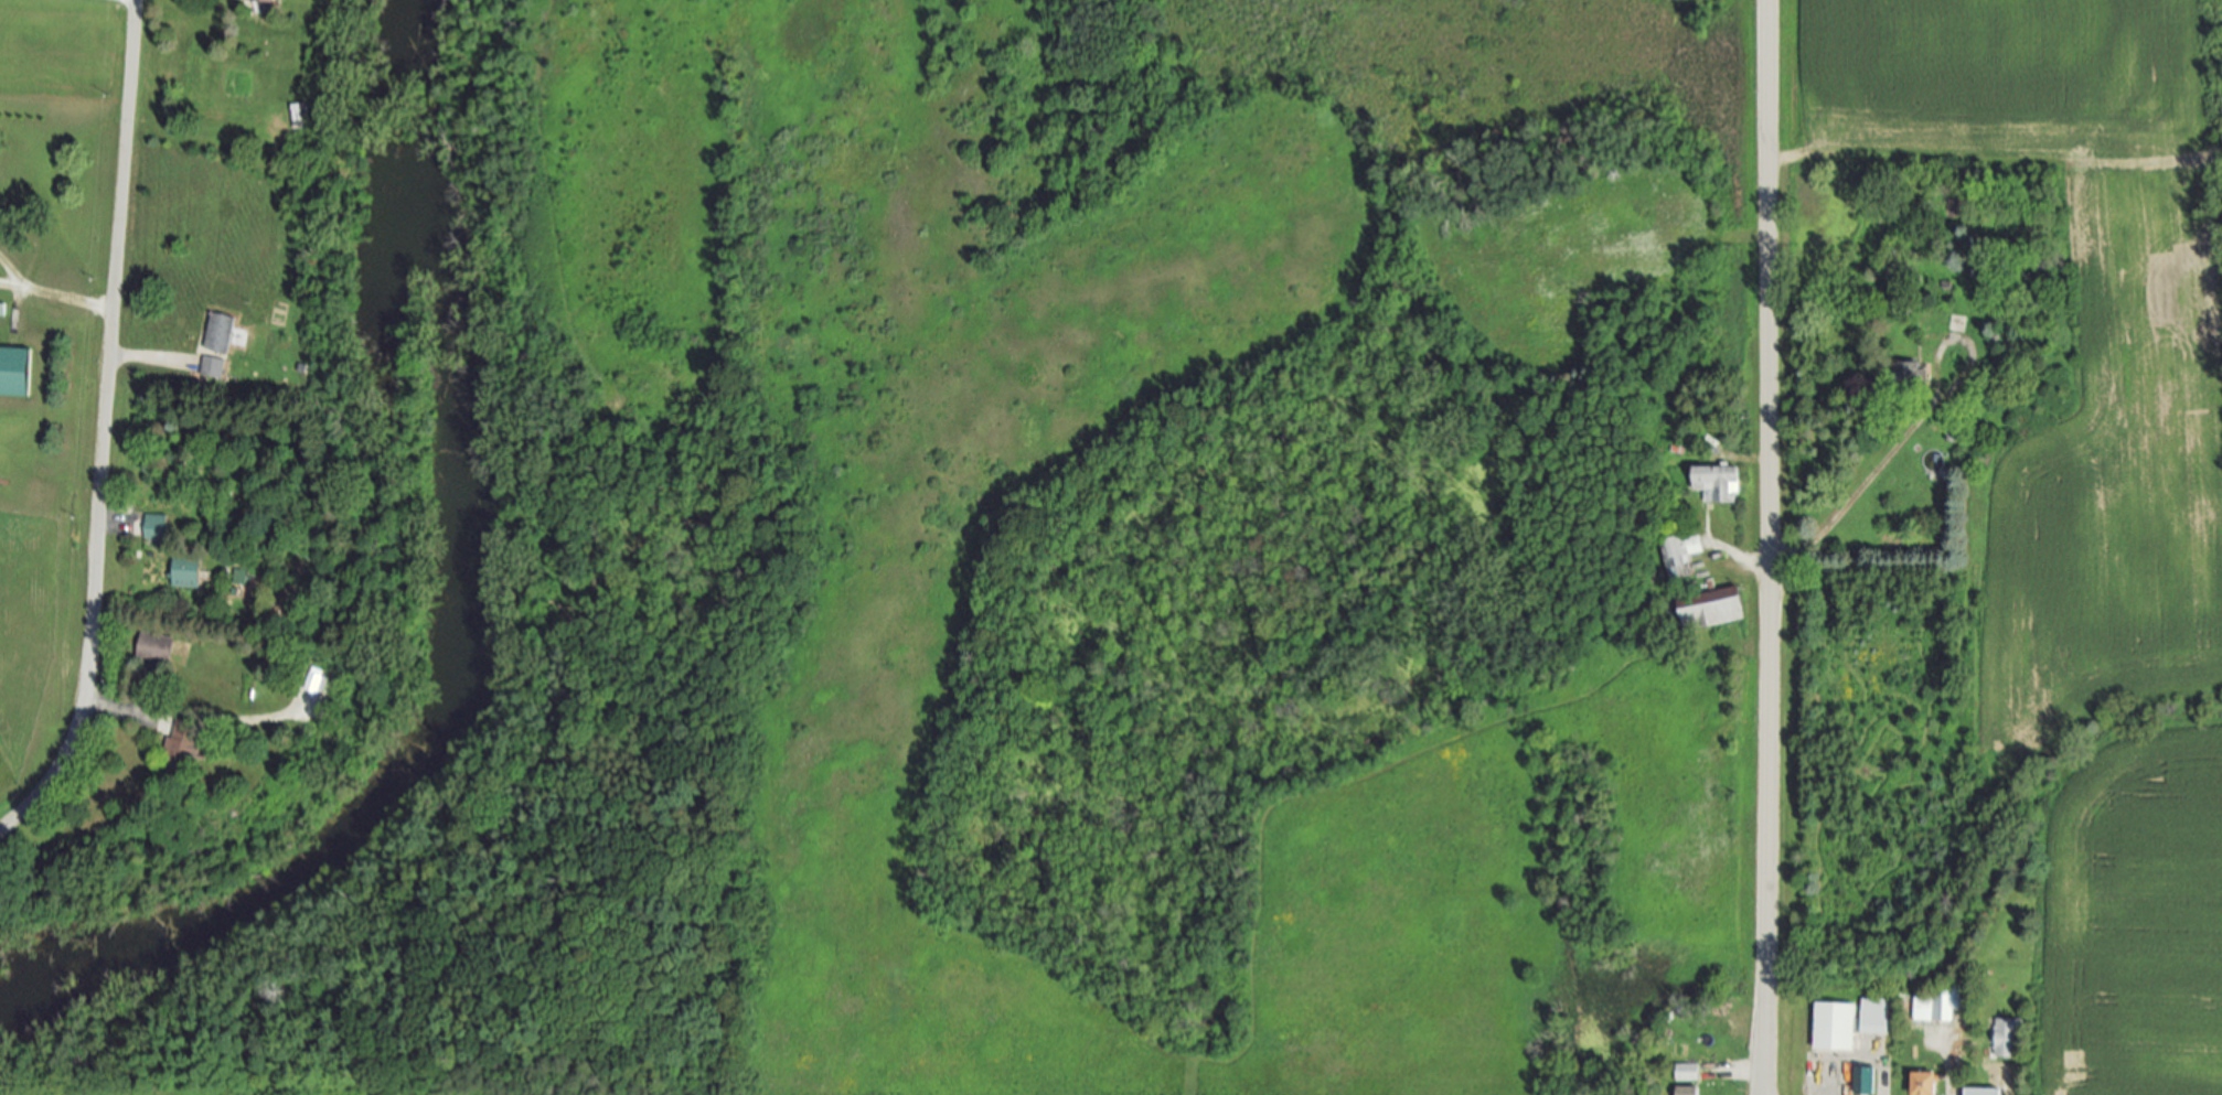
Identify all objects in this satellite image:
building: (271, 0)
building: (302, 115)
road: (12, 276)
road: (12, 288)
road: (68, 301)
building: (222, 333)
road: (148, 358)
building: (214, 367)
building: (15, 372)
building: (1909, 376)
building: (1953, 427)
road: (105, 429)
building: (1721, 482)
road: (1836, 519)
road: (110, 522)
building: (157, 526)
road: (1767, 547)
building: (1684, 554)
building: (188, 573)
building: (1716, 608)
building: (157, 647)
road: (192, 713)
building: (189, 748)
building: (1938, 1005)
building: (1878, 1016)
building: (1838, 1026)
building: (2009, 1035)
building: (1689, 1072)
building: (1930, 1083)
building: (1691, 1091)
building: (1988, 1091)

